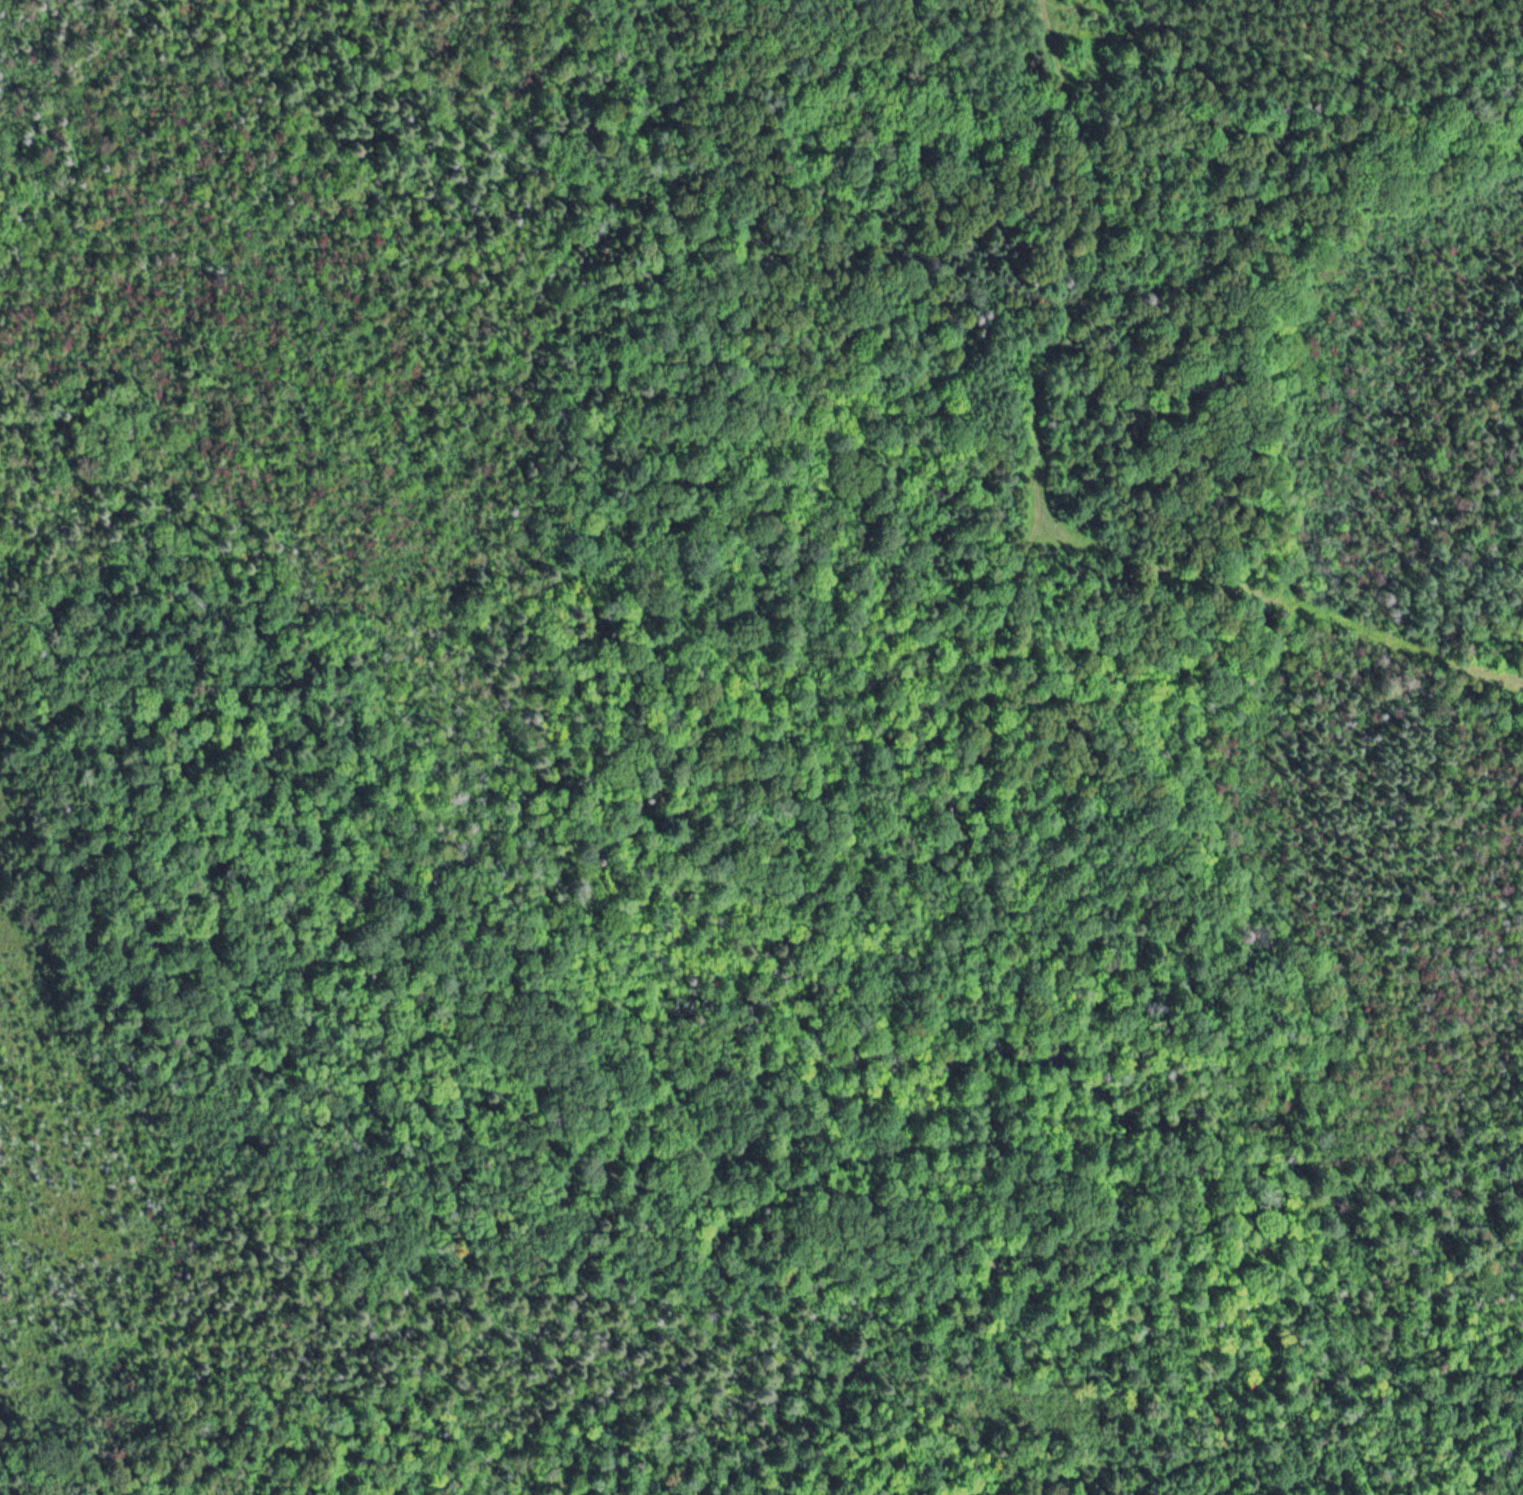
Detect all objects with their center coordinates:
road: (1241, 464)
road: (1037, 508)

